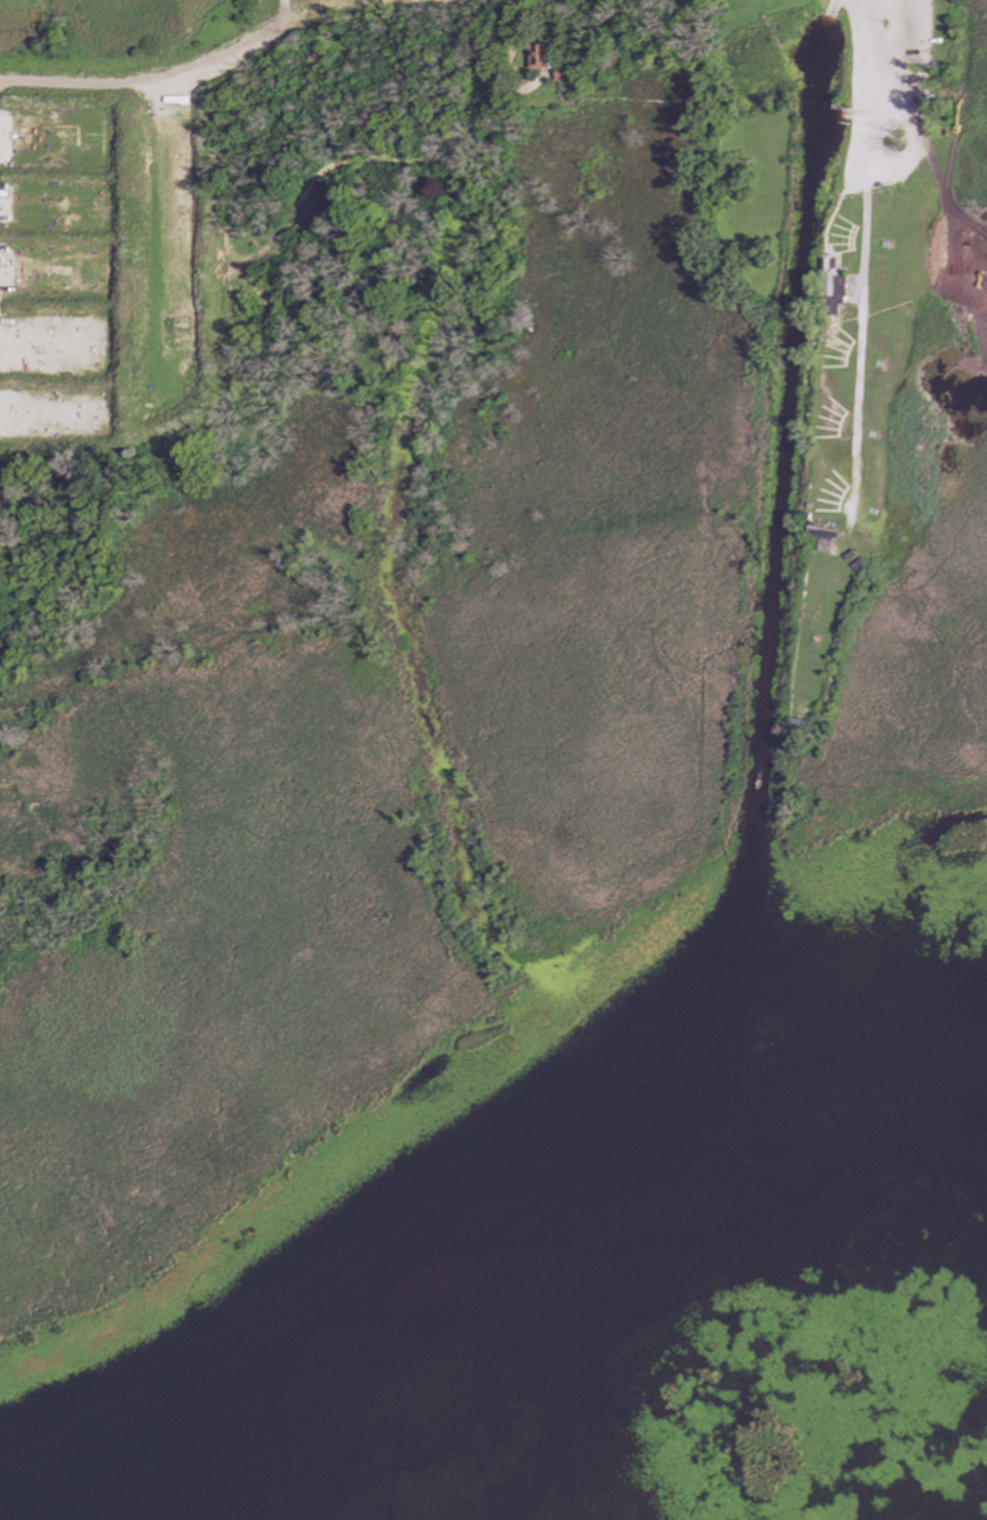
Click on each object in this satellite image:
road: (351, 16)
building: (539, 55)
building: (562, 73)
road: (150, 79)
road: (864, 96)
building: (310, 216)
building: (830, 279)
road: (855, 349)
building: (820, 536)

